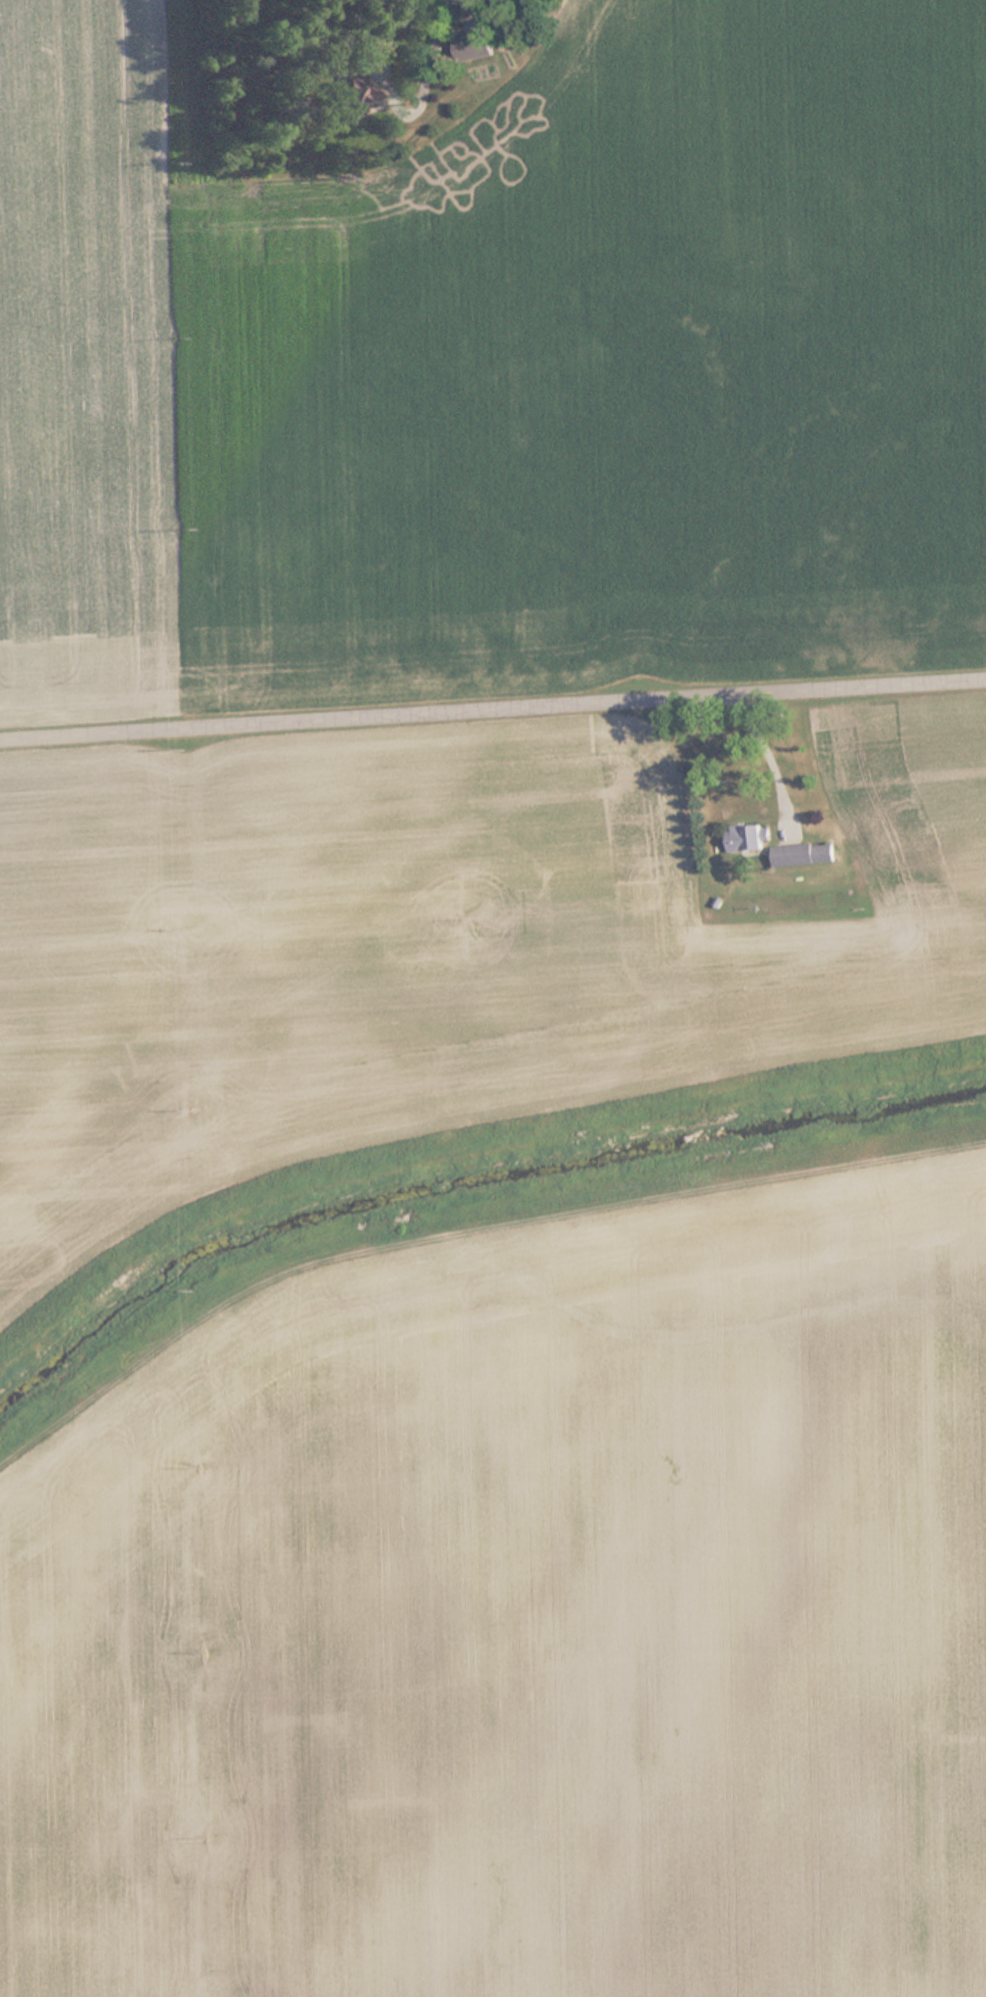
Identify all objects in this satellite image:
building: (352, 101)
road: (493, 706)
building: (744, 837)
building: (803, 854)

